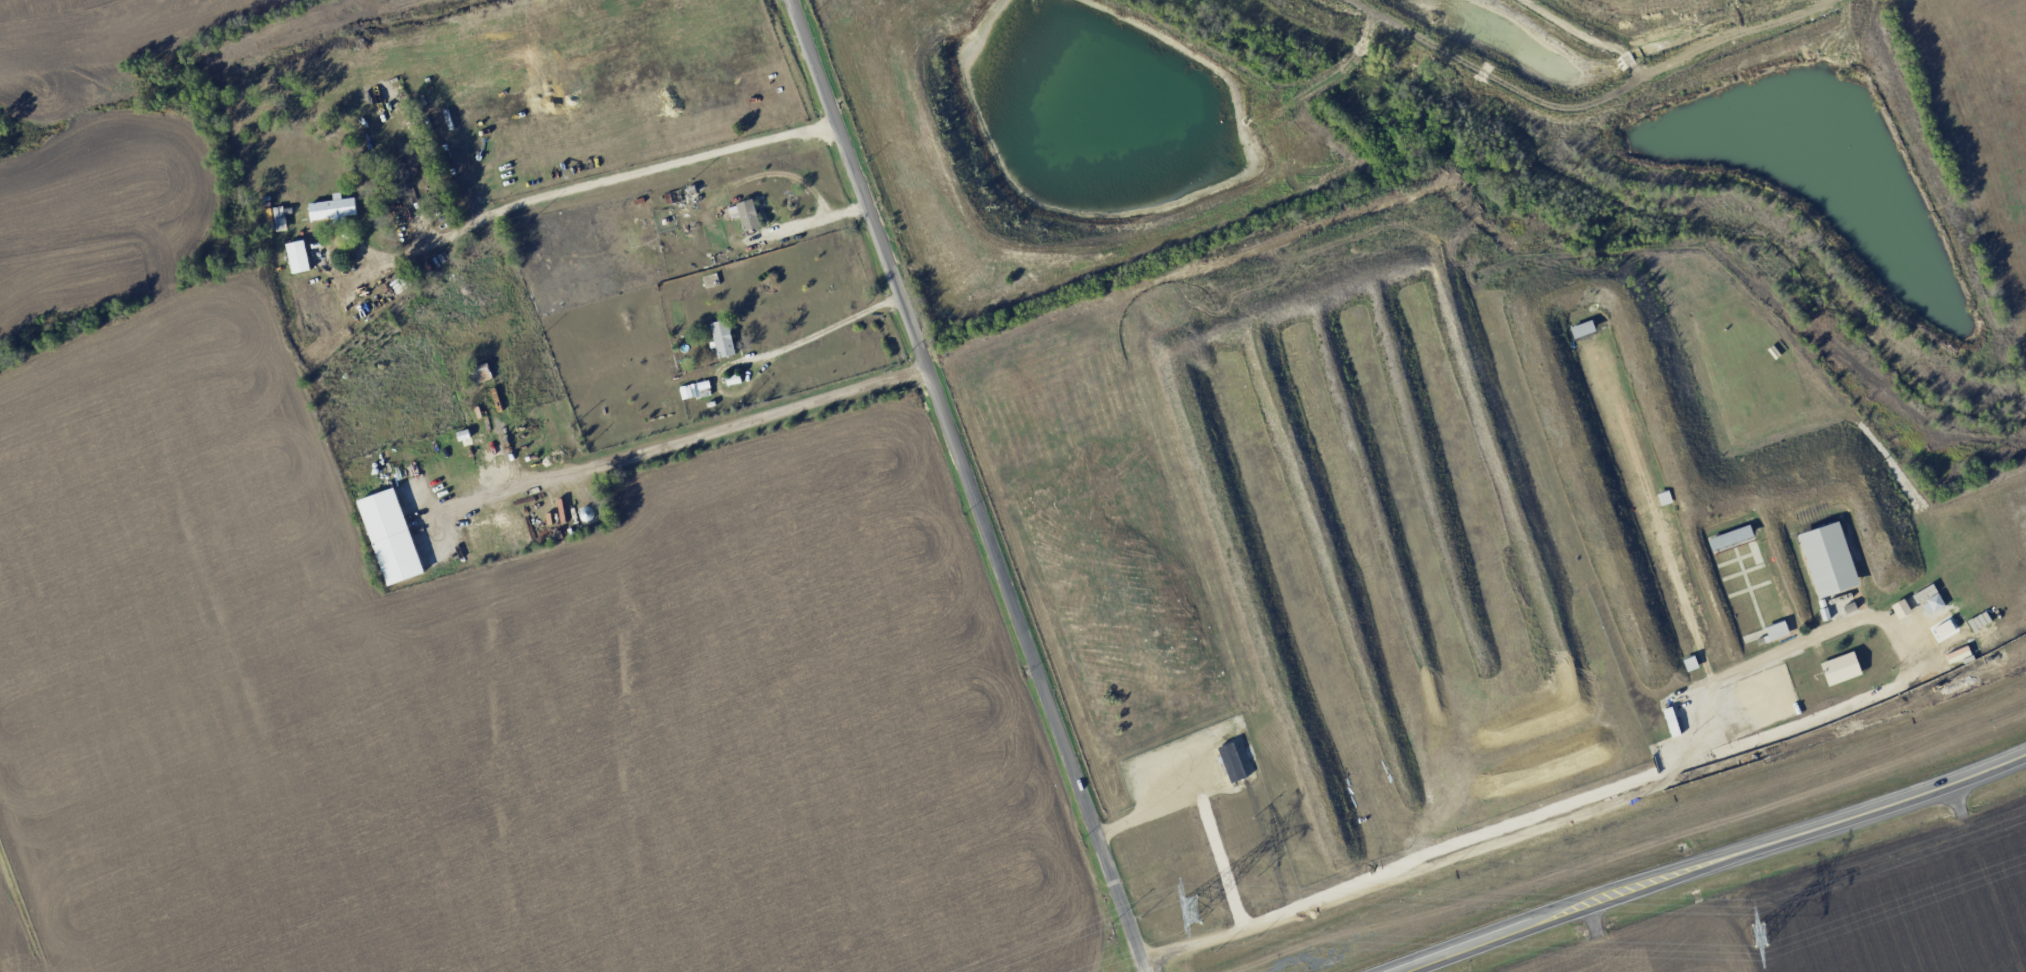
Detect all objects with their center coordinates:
landfill: (1668, 24)
road: (1668, 63)
road: (589, 182)
building: (332, 208)
building: (745, 214)
building: (297, 256)
building: (722, 338)
road: (765, 356)
building: (480, 373)
road: (670, 436)
road: (965, 486)
building: (390, 536)
building: (1824, 559)
building: (1837, 668)
road: (1677, 760)
building: (1231, 762)
road: (1711, 862)
power tower: (1191, 913)
power tower: (1759, 935)

